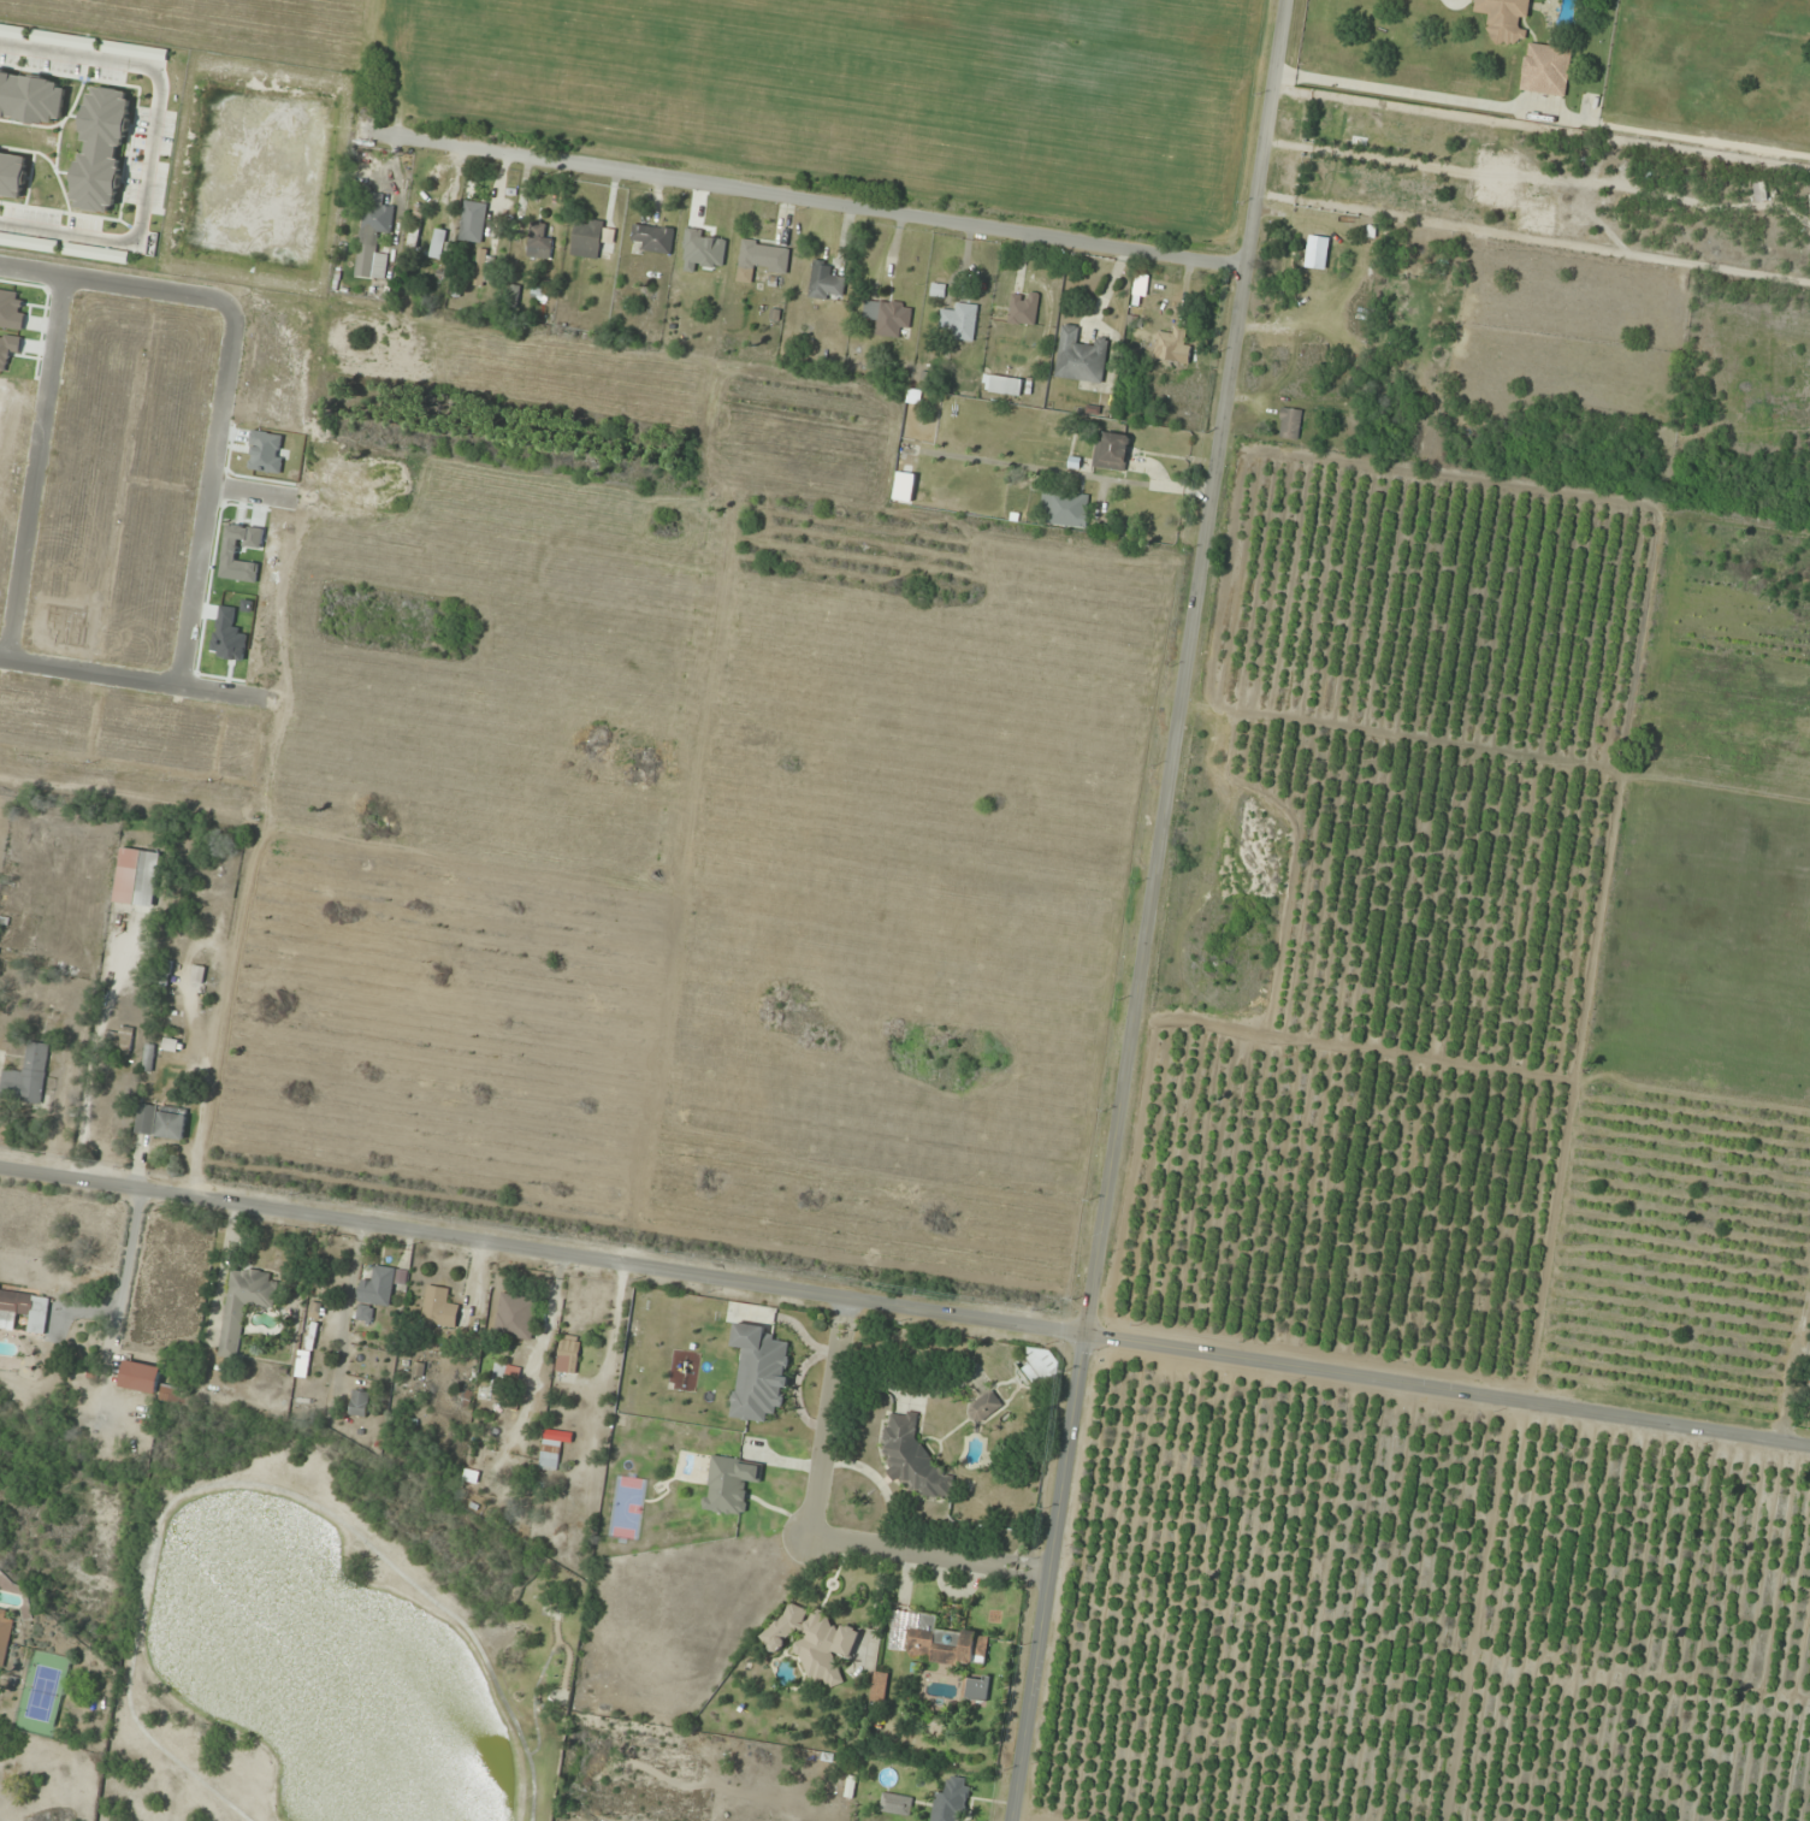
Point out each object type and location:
building: (1504, 19)
building: (1545, 70)
road: (1542, 124)
road: (153, 144)
road: (806, 207)
building: (472, 221)
building: (415, 226)
building: (371, 232)
building: (653, 238)
building: (586, 240)
building: (538, 242)
building: (438, 243)
building: (1317, 252)
building: (761, 260)
building: (484, 268)
building: (824, 283)
road: (117, 288)
building: (936, 291)
building: (1022, 309)
building: (887, 318)
building: (960, 321)
building: (1172, 353)
building: (1080, 357)
building: (1005, 385)
building: (1289, 424)
building: (1111, 451)
road: (36, 471)
road: (207, 499)
building: (1071, 503)
road: (639, 554)
road: (89, 673)
road: (277, 702)
road: (708, 757)
road: (1037, 811)
building: (137, 879)
road: (348, 887)
road: (1157, 910)
road: (679, 942)
building: (197, 975)
building: (40, 989)
road: (1076, 1003)
building: (120, 1040)
building: (171, 1045)
building: (149, 1058)
building: (26, 1076)
road: (998, 1077)
building: (144, 1119)
building: (172, 1123)
road: (653, 1125)
road: (546, 1255)
building: (379, 1284)
building: (243, 1305)
building: (439, 1306)
building: (363, 1313)
building: (31, 1316)
building: (516, 1316)
building: (568, 1354)
building: (140, 1377)
road: (1451, 1396)
building: (359, 1402)
building: (984, 1407)
building: (550, 1455)
building: (911, 1459)
building: (729, 1484)
building: (899, 1628)
building: (5, 1636)
building: (814, 1642)
building: (946, 1643)
building: (880, 1686)
building: (977, 1689)
building: (951, 1801)
building: (897, 1804)

